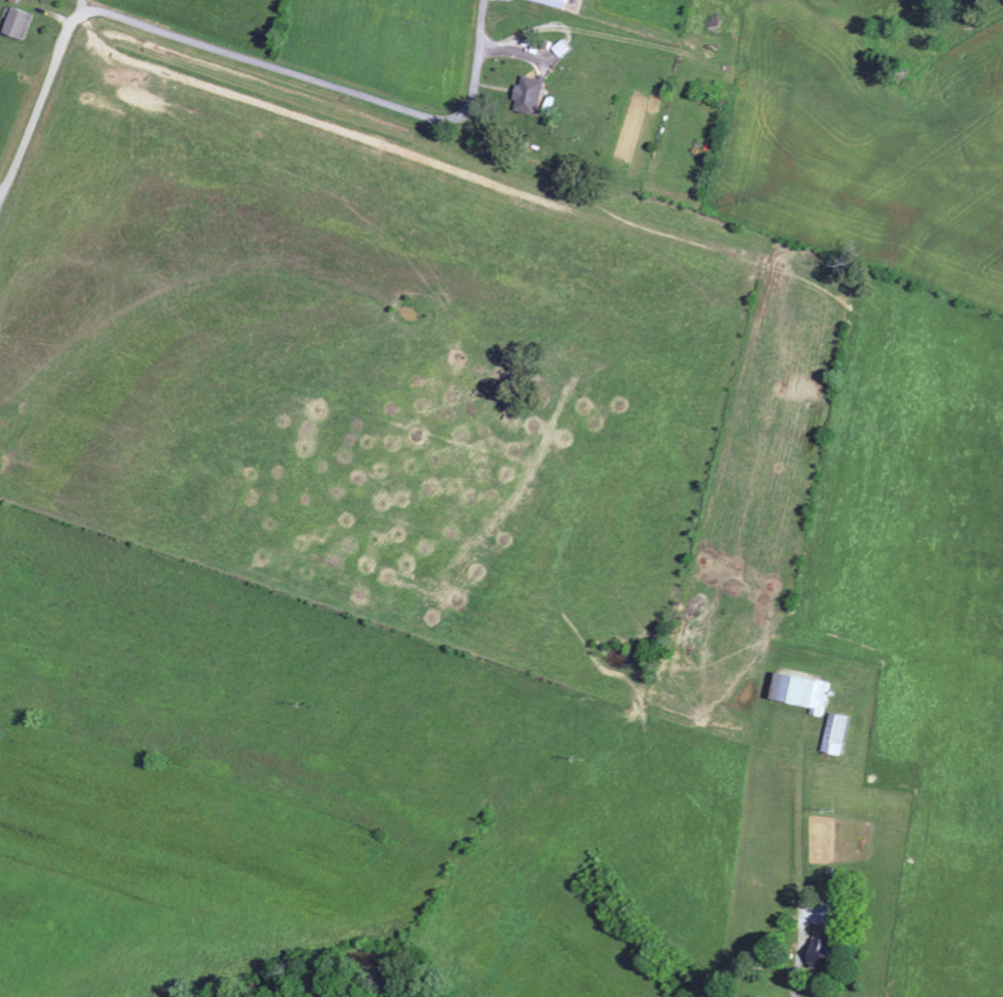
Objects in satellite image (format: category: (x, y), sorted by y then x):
building: (557, 3)
road: (86, 6)
building: (24, 22)
road: (206, 45)
building: (534, 95)
building: (807, 689)
building: (841, 732)
building: (826, 943)

